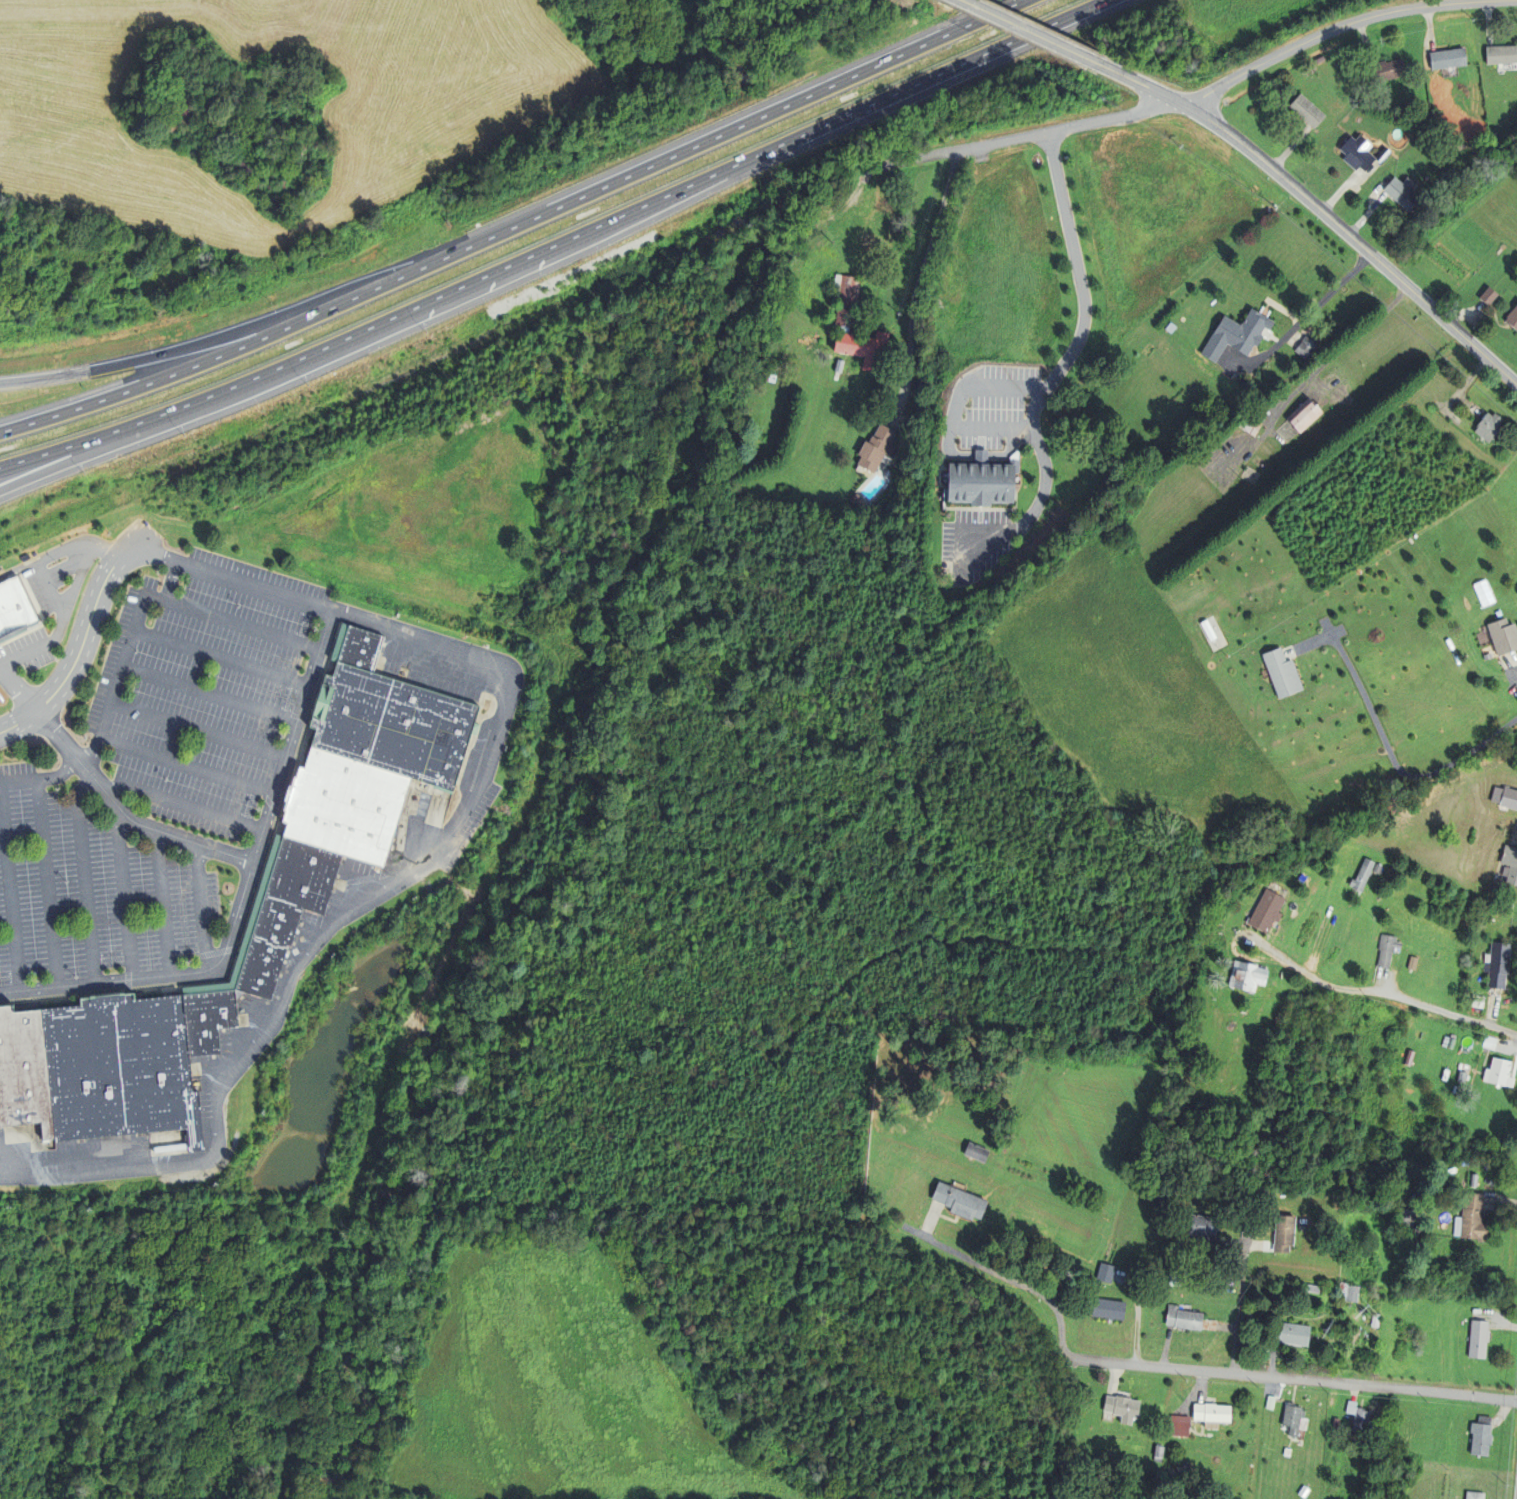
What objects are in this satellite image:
road: (1340, 27)
road: (1028, 31)
building: (1502, 55)
building: (1449, 58)
building: (1387, 70)
building: (1308, 110)
building: (175, 114)
crop: (433, 131)
building: (208, 132)
road: (1039, 133)
building: (1497, 138)
building: (1458, 145)
building: (1358, 152)
building: (1384, 154)
building: (242, 167)
road: (868, 174)
building: (281, 186)
building: (1404, 193)
road: (1317, 209)
building: (881, 223)
road: (516, 225)
road: (554, 242)
road: (917, 287)
building: (1489, 296)
building: (845, 301)
building: (1512, 318)
road: (1303, 319)
road: (231, 330)
building: (1238, 335)
road: (1077, 342)
building: (1306, 348)
building: (865, 349)
building: (835, 363)
road: (1319, 368)
building: (773, 369)
parking lot: (989, 411)
building: (1304, 415)
road: (952, 421)
building: (1250, 425)
building: (1490, 427)
road: (991, 428)
building: (877, 449)
road: (83, 453)
road: (1221, 456)
building: (982, 483)
building: (854, 499)
road: (985, 532)
parking lot: (974, 543)
road: (58, 551)
road: (230, 579)
road: (46, 589)
parking lot: (46, 606)
building: (14, 607)
road: (60, 620)
building: (1208, 629)
building: (1504, 634)
road: (130, 635)
building: (337, 644)
road: (79, 650)
building: (358, 650)
road: (219, 658)
road: (1511, 661)
building: (1282, 671)
road: (508, 687)
road: (207, 694)
building: (390, 727)
road: (196, 730)
road: (1384, 740)
road: (185, 766)
parking lot: (163, 786)
road: (106, 794)
building: (1505, 796)
road: (182, 805)
building: (342, 807)
building: (1511, 862)
building: (1377, 868)
building: (1363, 874)
road: (82, 876)
road: (46, 882)
road: (10, 896)
road: (123, 896)
road: (160, 903)
road: (198, 907)
building: (1267, 910)
building: (254, 911)
building: (284, 912)
building: (1387, 949)
building: (1413, 962)
building: (1499, 964)
road: (1299, 969)
building: (1247, 975)
road: (1440, 1009)
building: (206, 1020)
building: (1490, 1042)
building: (1451, 1043)
building: (119, 1069)
building: (1499, 1071)
building: (23, 1072)
building: (1462, 1076)
building: (977, 1152)
building: (959, 1201)
building: (1473, 1219)
building: (1407, 1220)
building: (1204, 1228)
building: (1285, 1233)
building: (1105, 1273)
road: (1005, 1276)
building: (1313, 1289)
building: (1349, 1292)
road: (1241, 1302)
building: (1108, 1308)
building: (1188, 1320)
building: (1376, 1320)
building: (1295, 1335)
building: (1479, 1339)
road: (1294, 1378)
building: (1270, 1403)
building: (1331, 1403)
building: (1122, 1408)
building: (1212, 1415)
building: (1360, 1419)
building: (1295, 1420)
building: (1337, 1423)
building: (1179, 1426)
building: (1482, 1436)
building: (1287, 1452)
building: (1159, 1454)
building: (1283, 1481)
building: (1302, 1491)
building: (1475, 1495)

